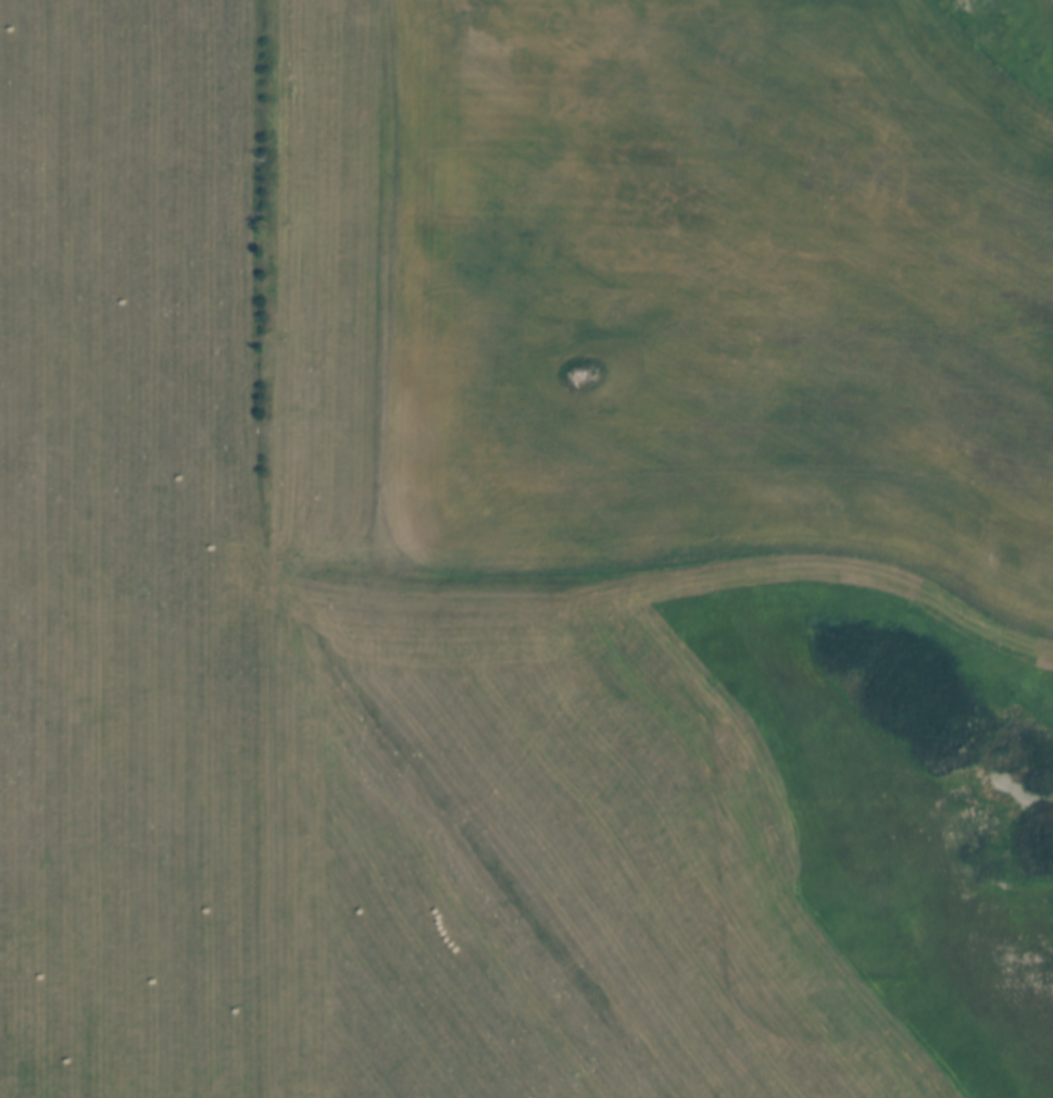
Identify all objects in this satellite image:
crop: (1048, 4)
crop: (714, 288)

